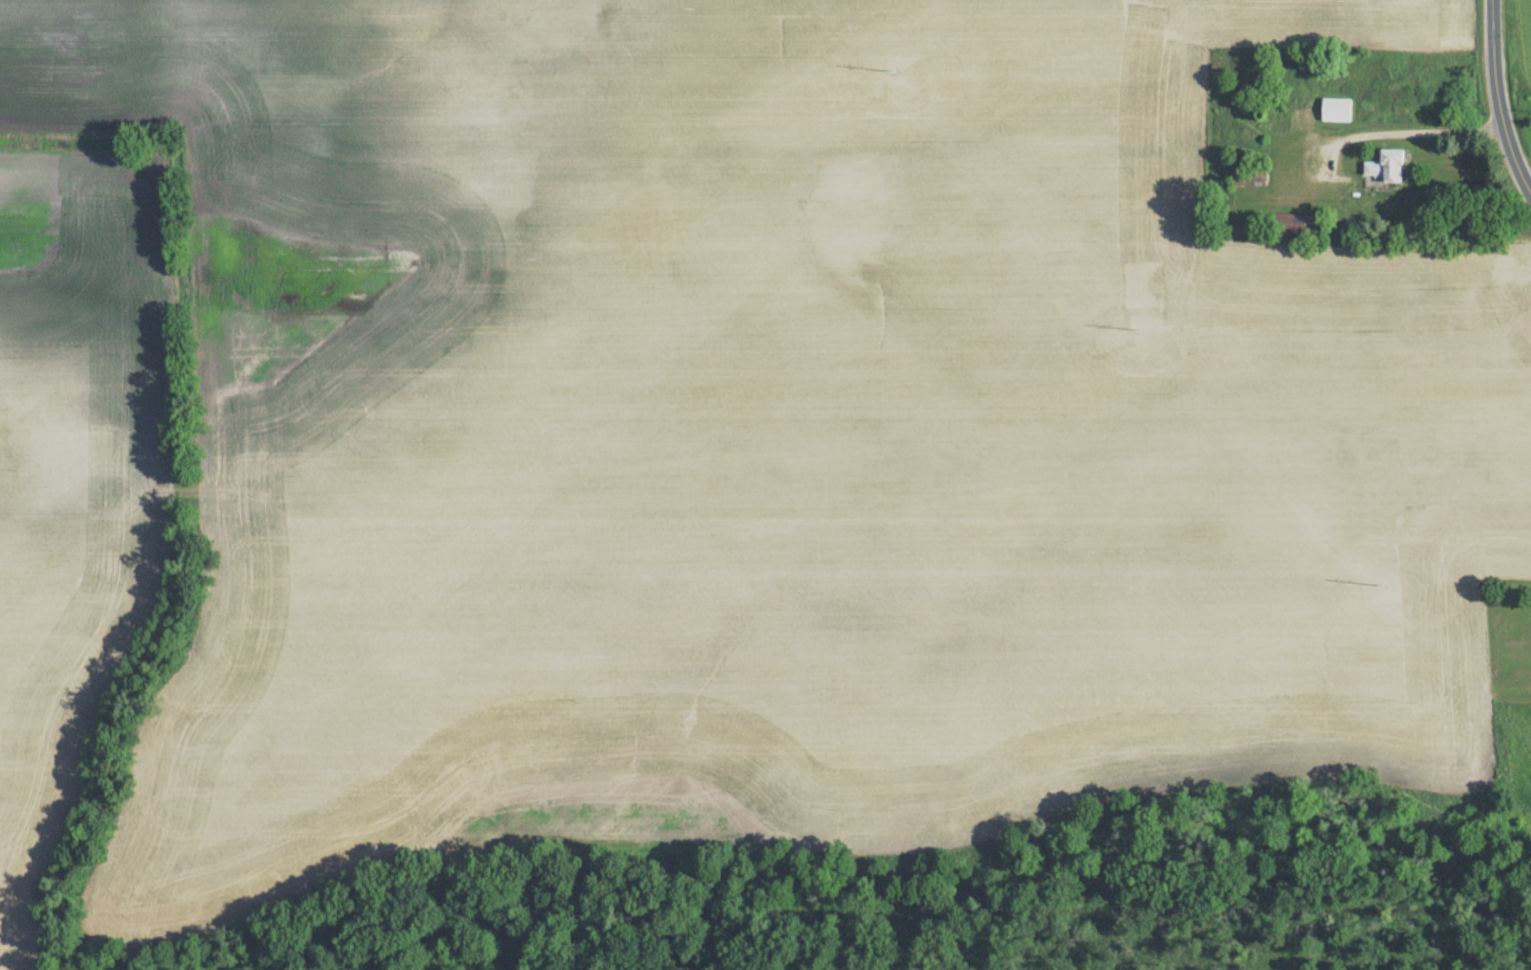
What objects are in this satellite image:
road: (1496, 102)
building: (1331, 112)
road: (1397, 136)
building: (1378, 169)

